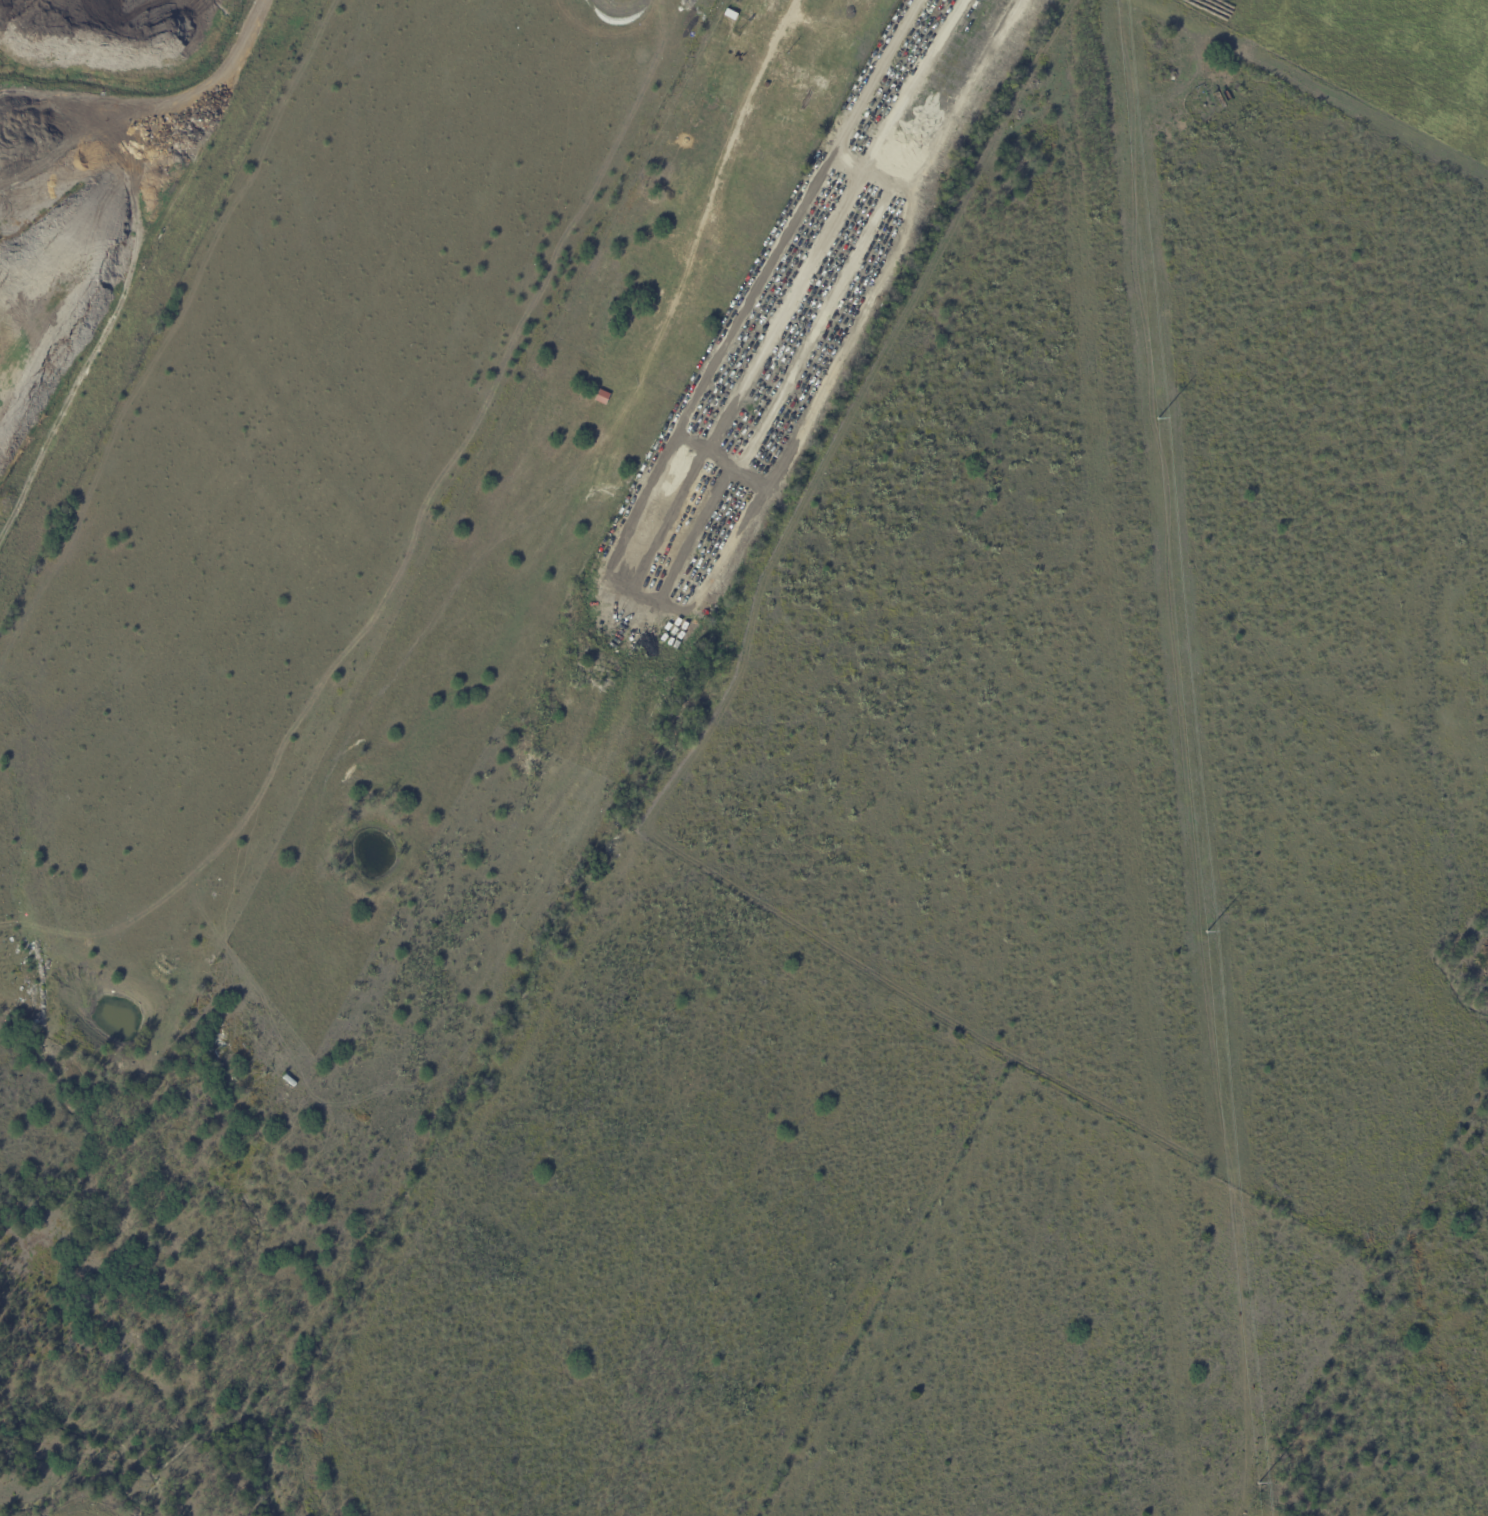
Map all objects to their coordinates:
road: (782, 37)
road: (909, 97)
road: (886, 171)
building: (709, 295)
building: (704, 314)
building: (700, 327)
building: (694, 347)
power tower: (1157, 421)
road: (646, 620)
power tower: (1204, 932)
power tower: (1257, 1487)

